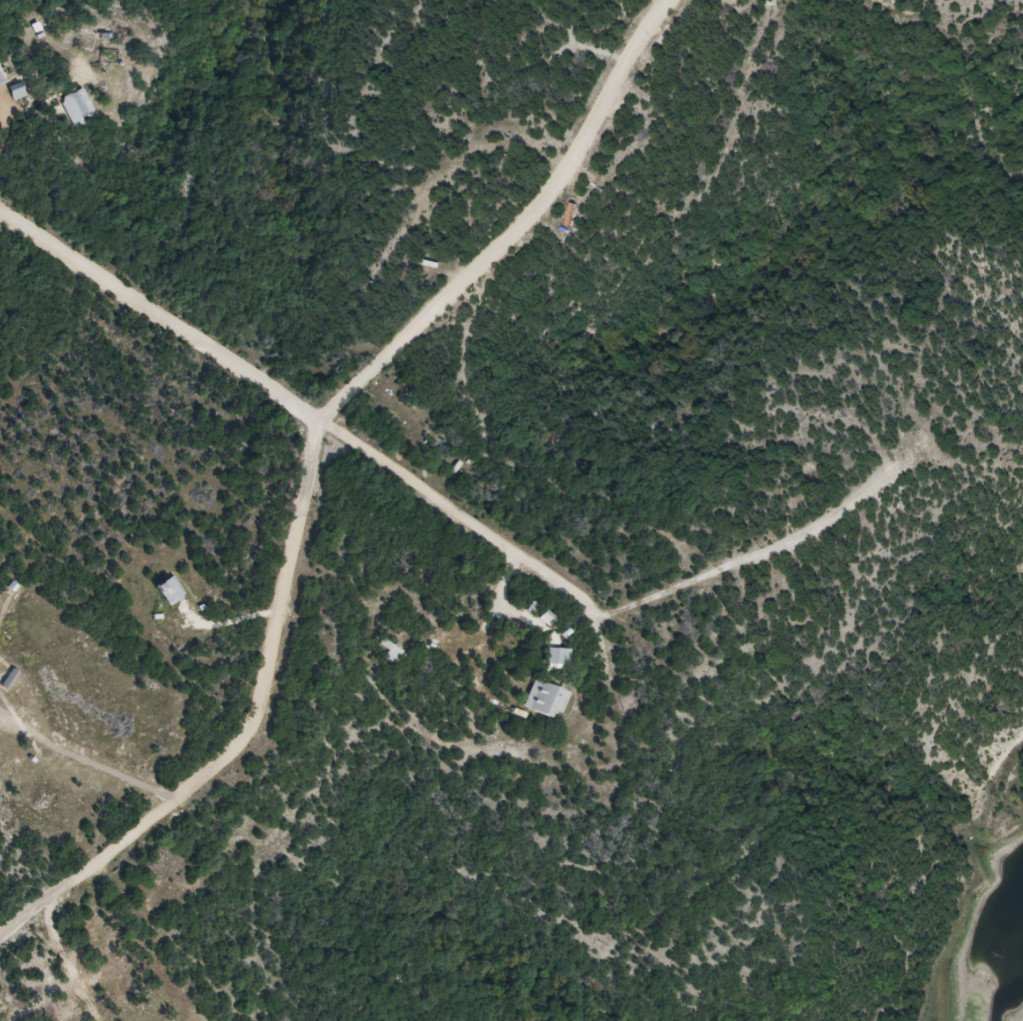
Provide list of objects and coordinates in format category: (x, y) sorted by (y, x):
building: (2, 81)
building: (21, 93)
building: (82, 108)
road: (169, 316)
road: (329, 461)
building: (172, 592)
road: (610, 594)
building: (562, 657)
building: (550, 699)
road: (91, 757)
road: (15, 925)
road: (37, 966)

